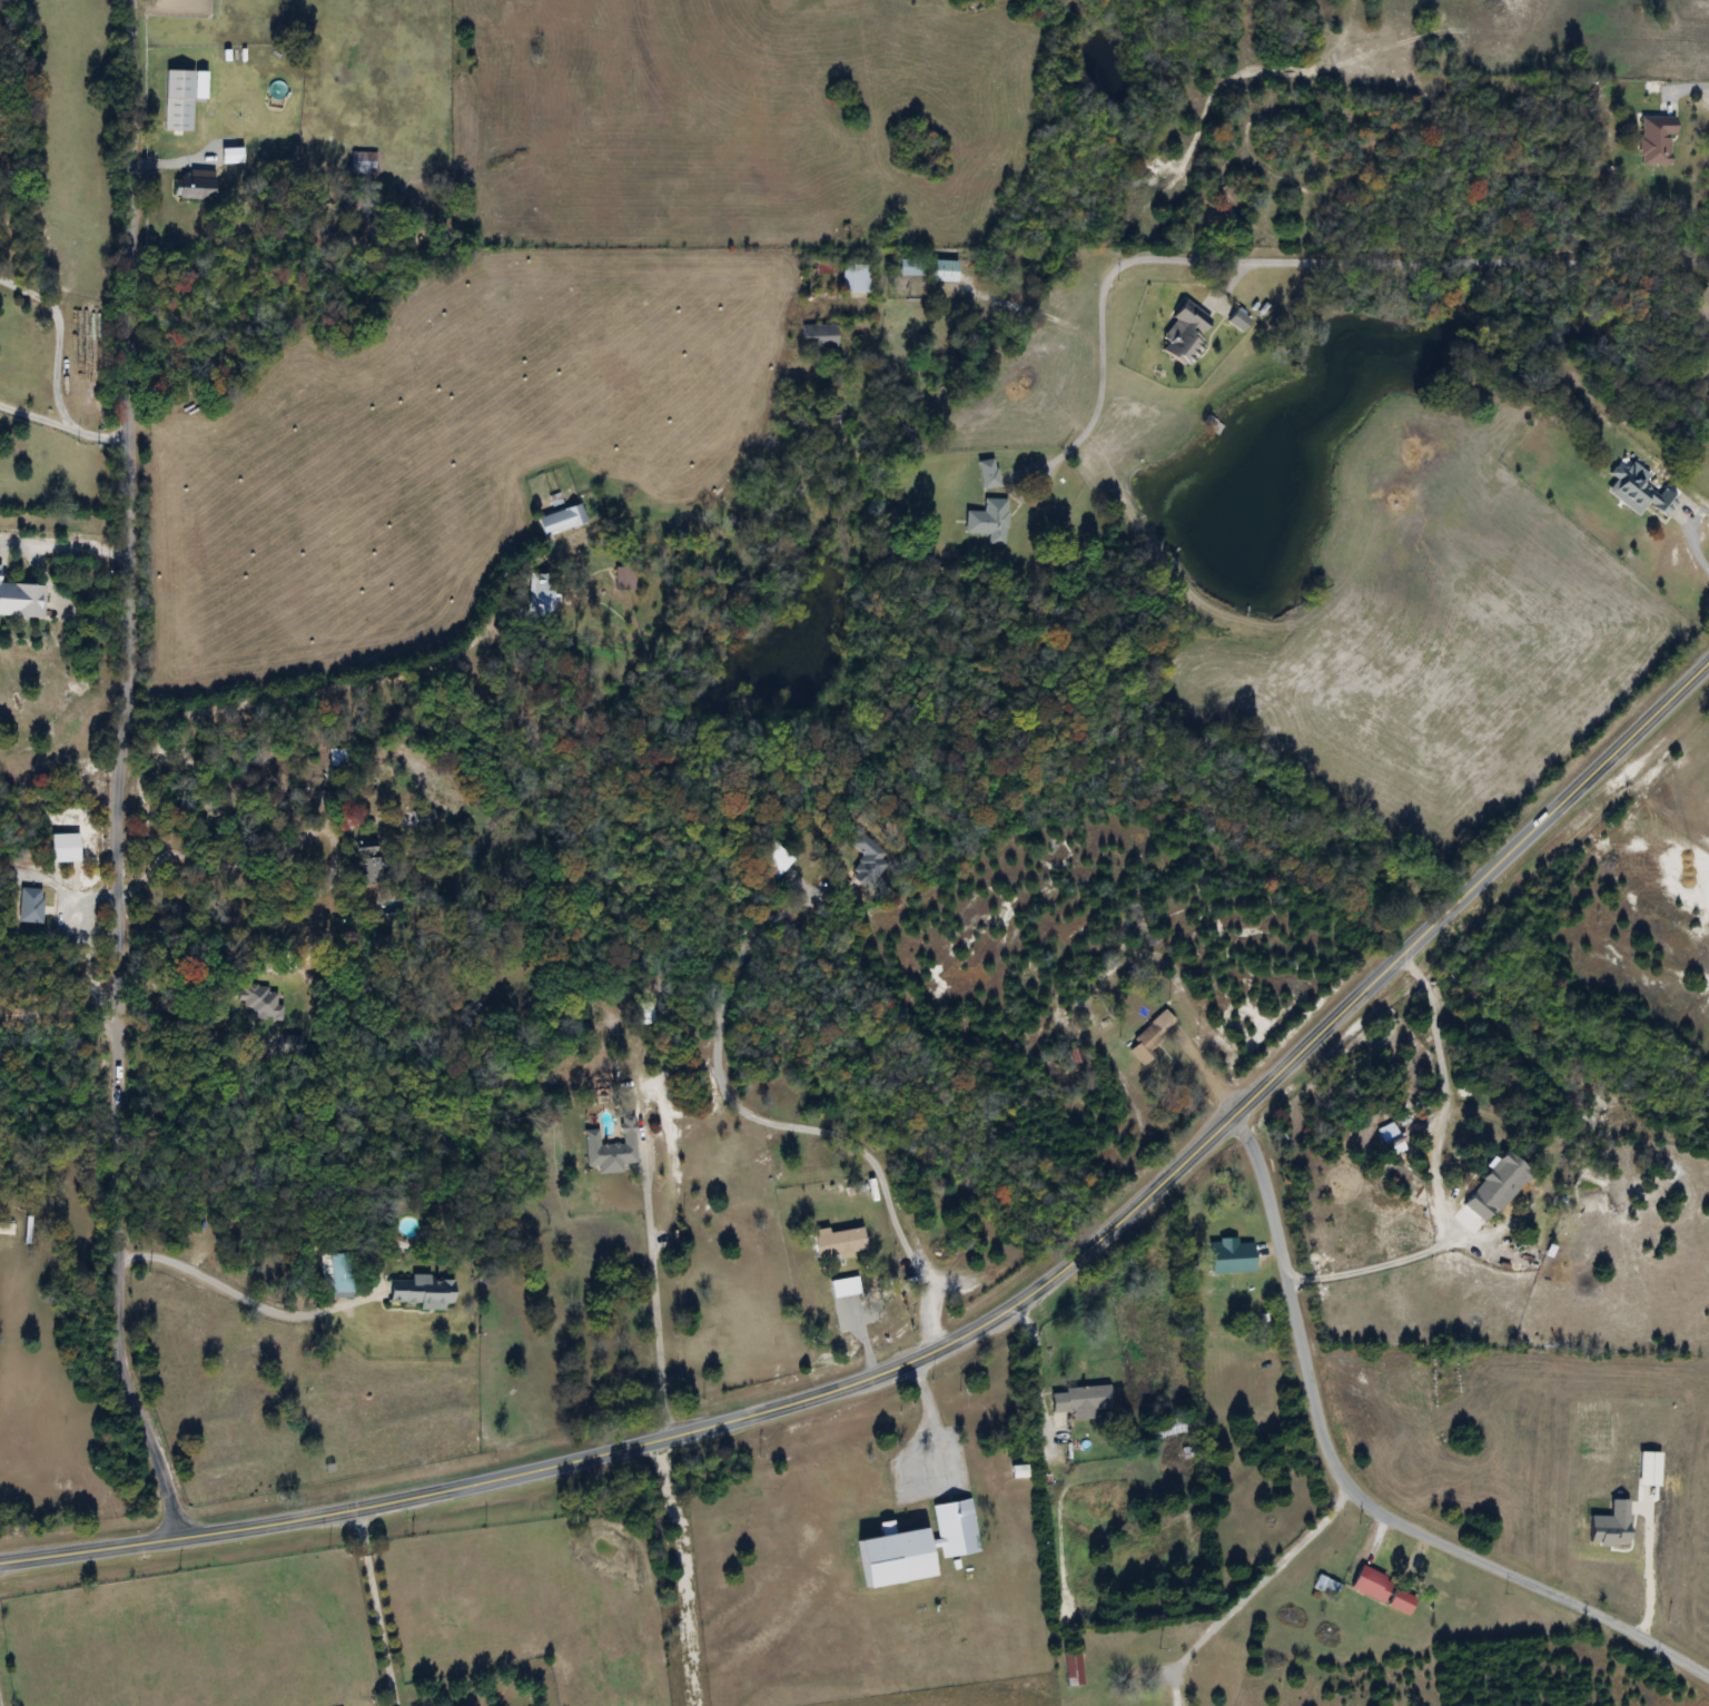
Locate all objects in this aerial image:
road: (1700, 87)
building: (178, 100)
building: (231, 156)
building: (363, 164)
building: (195, 187)
road: (1298, 262)
building: (821, 268)
building: (910, 268)
building: (942, 272)
building: (854, 278)
building: (1184, 335)
building: (820, 336)
road: (57, 337)
road: (62, 425)
building: (988, 473)
building: (1637, 492)
building: (561, 519)
building: (989, 520)
road: (1691, 545)
road: (37, 563)
building: (622, 578)
building: (20, 595)
building: (540, 595)
road: (371, 679)
building: (337, 757)
road: (117, 771)
building: (63, 848)
building: (868, 857)
road: (240, 861)
building: (772, 862)
building: (366, 865)
road: (68, 896)
building: (30, 906)
road: (57, 1002)
building: (264, 1002)
road: (182, 1003)
road: (58, 1020)
building: (1150, 1035)
building: (295, 1045)
road: (1205, 1066)
road: (781, 1124)
building: (1393, 1143)
building: (612, 1150)
road: (1433, 1173)
building: (1495, 1187)
building: (7, 1227)
building: (838, 1242)
building: (1229, 1256)
building: (338, 1274)
road: (650, 1291)
building: (422, 1292)
road: (235, 1294)
road: (968, 1329)
road: (1040, 1364)
building: (1079, 1401)
road: (929, 1417)
road: (1353, 1491)
building: (917, 1546)
road: (1648, 1572)
road: (1251, 1588)
building: (1401, 1601)
road: (375, 1605)
building: (1071, 1669)

